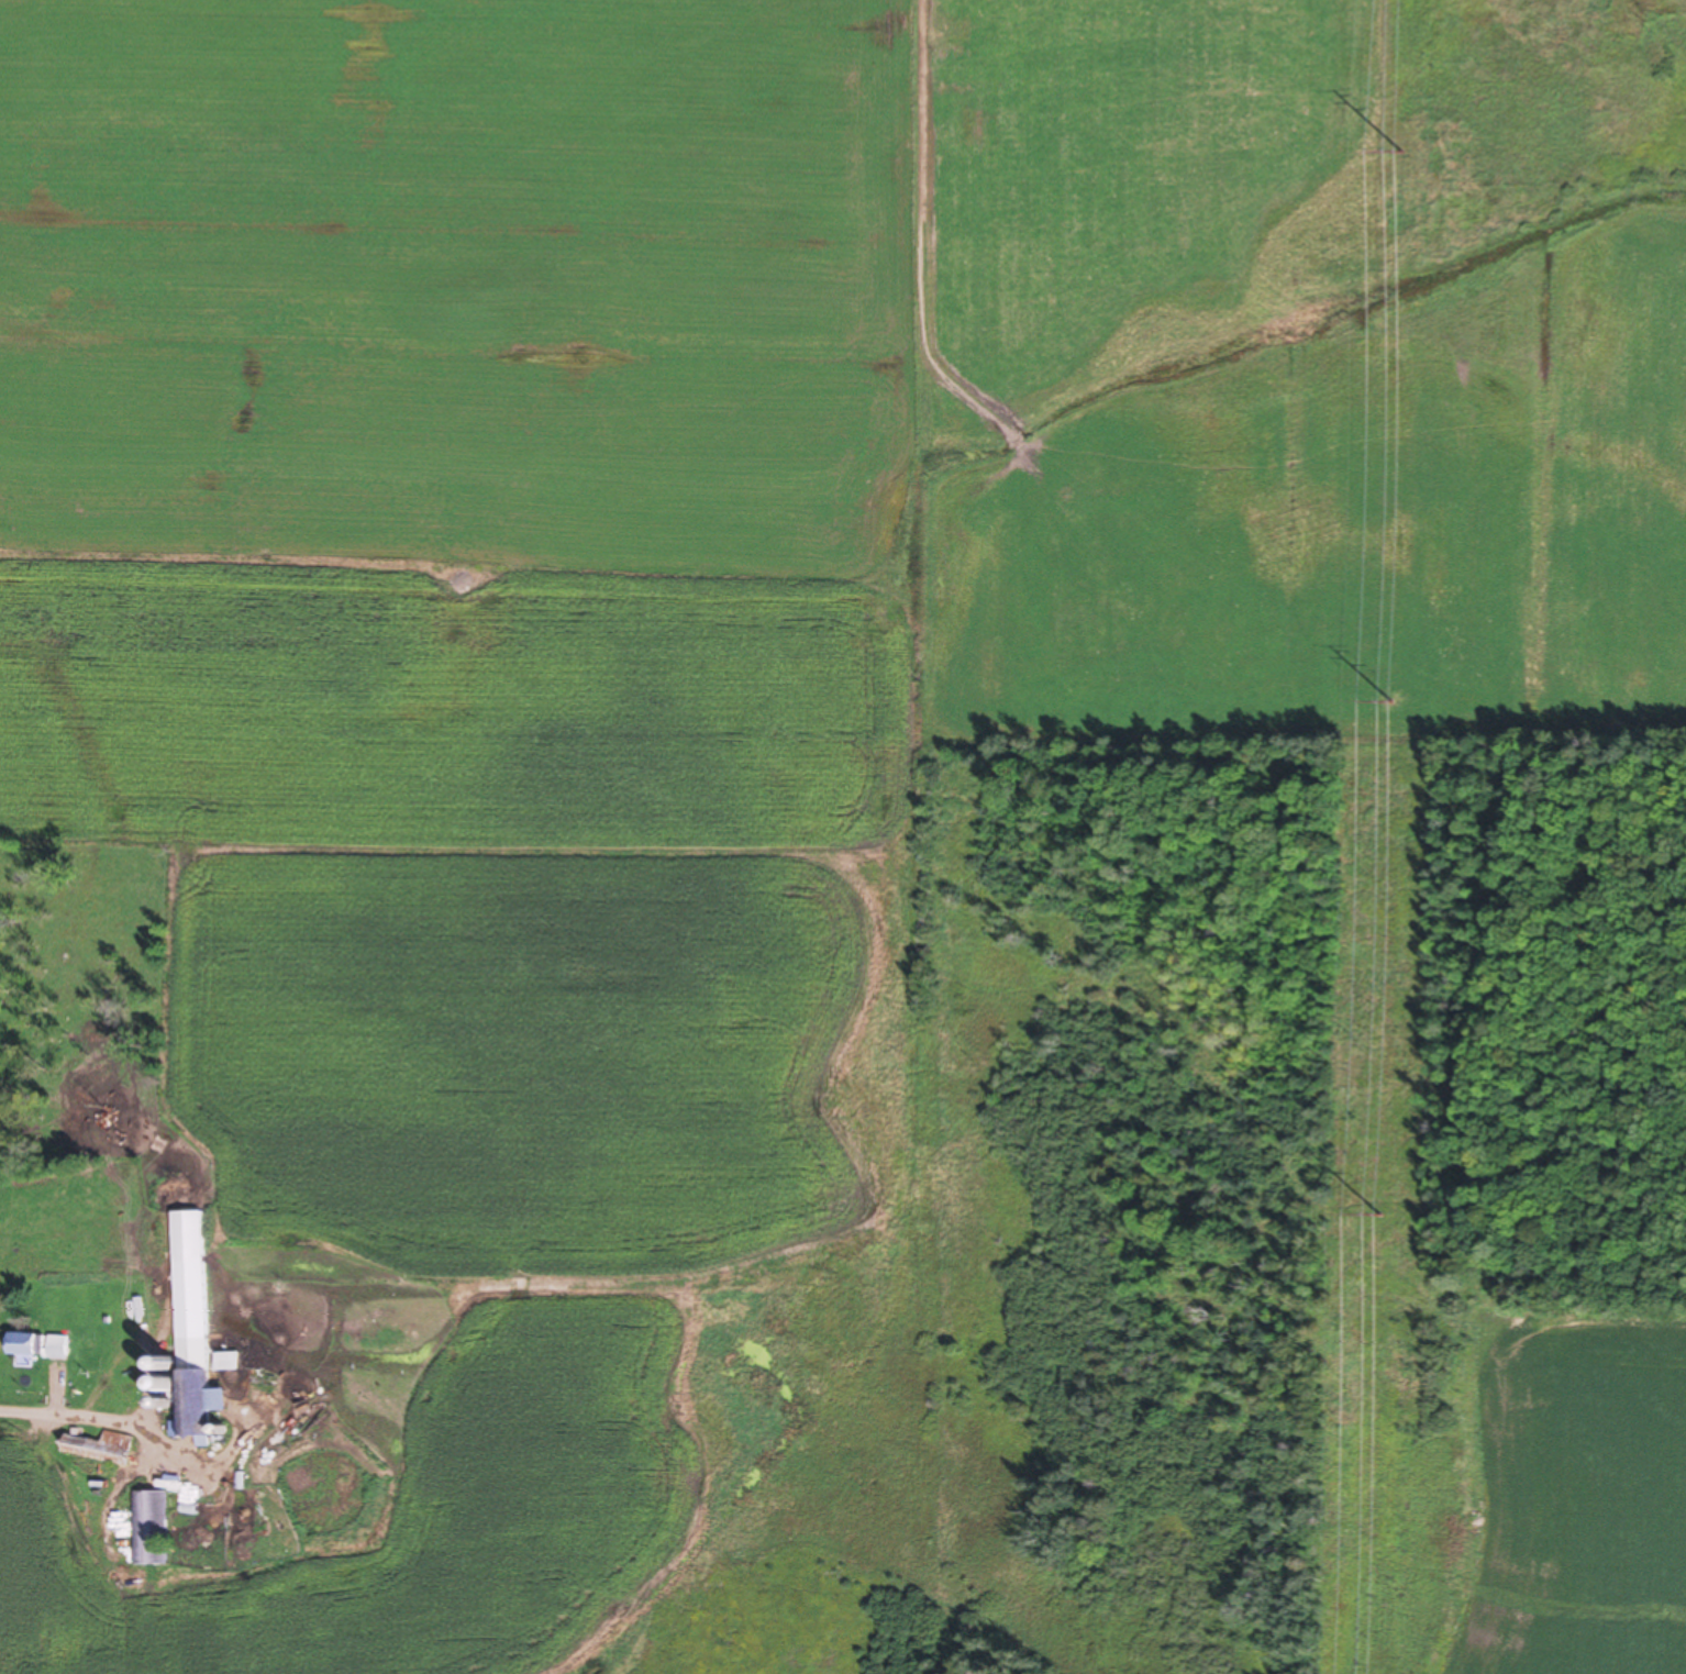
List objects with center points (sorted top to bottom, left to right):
power tower: (1402, 155)
power tower: (1388, 705)
power tower: (1378, 1217)
building: (191, 1329)
building: (37, 1348)
building: (232, 1365)
building: (99, 1450)
building: (148, 1529)

